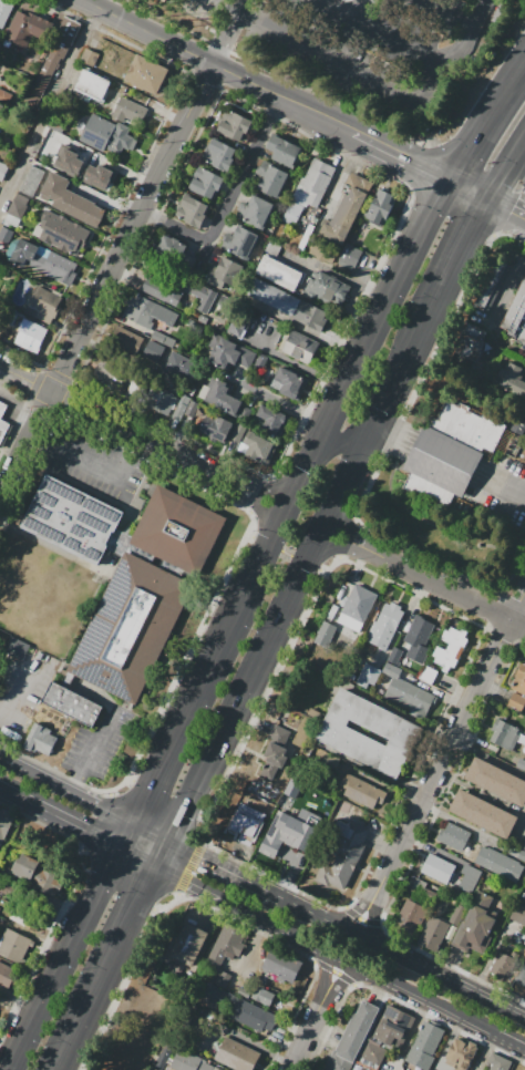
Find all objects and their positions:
road: (218, 8)
road: (241, 8)
building: (4, 11)
road: (344, 13)
road: (450, 13)
building: (25, 29)
road: (227, 40)
road: (401, 43)
building: (55, 52)
building: (90, 56)
road: (218, 64)
building: (146, 74)
road: (384, 83)
building: (91, 85)
building: (4, 97)
road: (48, 104)
building: (1, 109)
building: (128, 112)
road: (485, 121)
building: (235, 126)
building: (106, 136)
building: (44, 148)
building: (284, 151)
building: (219, 155)
road: (401, 155)
traffic signals: (464, 156)
building: (70, 162)
traffic signals: (419, 164)
building: (2, 171)
road: (507, 172)
road: (343, 175)
building: (99, 176)
building: (31, 182)
building: (272, 182)
building: (205, 183)
building: (313, 183)
building: (359, 183)
road: (470, 189)
road: (516, 194)
road: (229, 196)
building: (71, 200)
building: (17, 206)
building: (381, 207)
road: (506, 207)
traffic signals: (511, 209)
building: (192, 210)
building: (259, 212)
building: (343, 217)
building: (61, 233)
building: (6, 235)
traffic signals: (473, 236)
building: (302, 243)
building: (244, 244)
building: (274, 247)
building: (174, 250)
building: (322, 250)
building: (348, 257)
road: (461, 260)
building: (44, 261)
building: (279, 272)
building: (220, 274)
road: (339, 274)
road: (109, 282)
building: (491, 285)
road: (506, 287)
building: (327, 288)
building: (162, 292)
building: (199, 294)
building: (274, 296)
building: (43, 306)
building: (147, 312)
building: (515, 315)
building: (311, 316)
road: (374, 323)
building: (237, 330)
building: (30, 336)
building: (163, 339)
building: (125, 341)
building: (470, 341)
building: (300, 346)
building: (153, 350)
building: (230, 354)
building: (260, 362)
building: (182, 368)
building: (114, 375)
road: (404, 375)
building: (511, 379)
building: (291, 383)
building: (134, 390)
building: (224, 399)
building: (159, 401)
road: (281, 403)
building: (179, 407)
building: (2, 409)
building: (191, 409)
building: (245, 413)
traffic signals: (388, 413)
building: (271, 421)
traffic signals: (327, 423)
building: (471, 424)
building: (216, 428)
building: (3, 429)
building: (237, 436)
road: (141, 439)
road: (395, 440)
building: (260, 450)
road: (340, 451)
road: (75, 457)
building: (440, 466)
traffic signals: (361, 467)
traffic signals: (302, 470)
road: (402, 471)
road: (353, 482)
parking lot: (506, 488)
road: (498, 490)
road: (424, 518)
building: (71, 521)
building: (177, 529)
park: (447, 533)
road: (267, 539)
road: (502, 546)
road: (289, 555)
road: (426, 580)
building: (357, 608)
building: (385, 626)
building: (130, 628)
building: (325, 635)
building: (419, 638)
building: (14, 648)
road: (274, 648)
building: (451, 648)
building: (394, 656)
building: (368, 676)
road: (200, 677)
building: (519, 680)
road: (12, 691)
building: (406, 692)
building: (516, 702)
building: (72, 704)
building: (279, 733)
building: (397, 733)
building: (504, 735)
building: (35, 739)
road: (90, 752)
building: (274, 759)
road: (441, 763)
building: (521, 764)
road: (30, 769)
traffic signals: (151, 780)
road: (150, 781)
building: (496, 781)
building: (362, 792)
road: (22, 803)
road: (120, 813)
building: (483, 813)
road: (191, 819)
building: (4, 822)
building: (288, 831)
road: (80, 833)
traffic signals: (83, 835)
building: (238, 836)
building: (453, 836)
building: (524, 846)
building: (343, 853)
building: (280, 854)
traffic signals: (205, 855)
building: (521, 855)
road: (107, 863)
road: (138, 863)
building: (500, 863)
road: (226, 866)
building: (437, 868)
building: (33, 872)
building: (470, 877)
building: (418, 885)
road: (277, 893)
road: (212, 898)
road: (146, 905)
road: (84, 910)
traffic signals: (144, 912)
road: (319, 914)
building: (410, 915)
building: (519, 916)
building: (24, 918)
building: (476, 925)
building: (433, 934)
building: (11, 944)
building: (189, 944)
building: (226, 945)
building: (281, 966)
building: (500, 967)
building: (7, 976)
road: (441, 976)
building: (224, 979)
road: (383, 984)
road: (43, 991)
building: (244, 992)
building: (262, 995)
road: (96, 1001)
building: (241, 1009)
road: (315, 1016)
building: (393, 1028)
building: (352, 1037)
building: (424, 1045)
road: (515, 1048)
building: (373, 1053)
building: (236, 1054)
building: (459, 1054)
building: (163, 1057)
building: (189, 1062)
building: (500, 1066)
road: (61, 1069)

